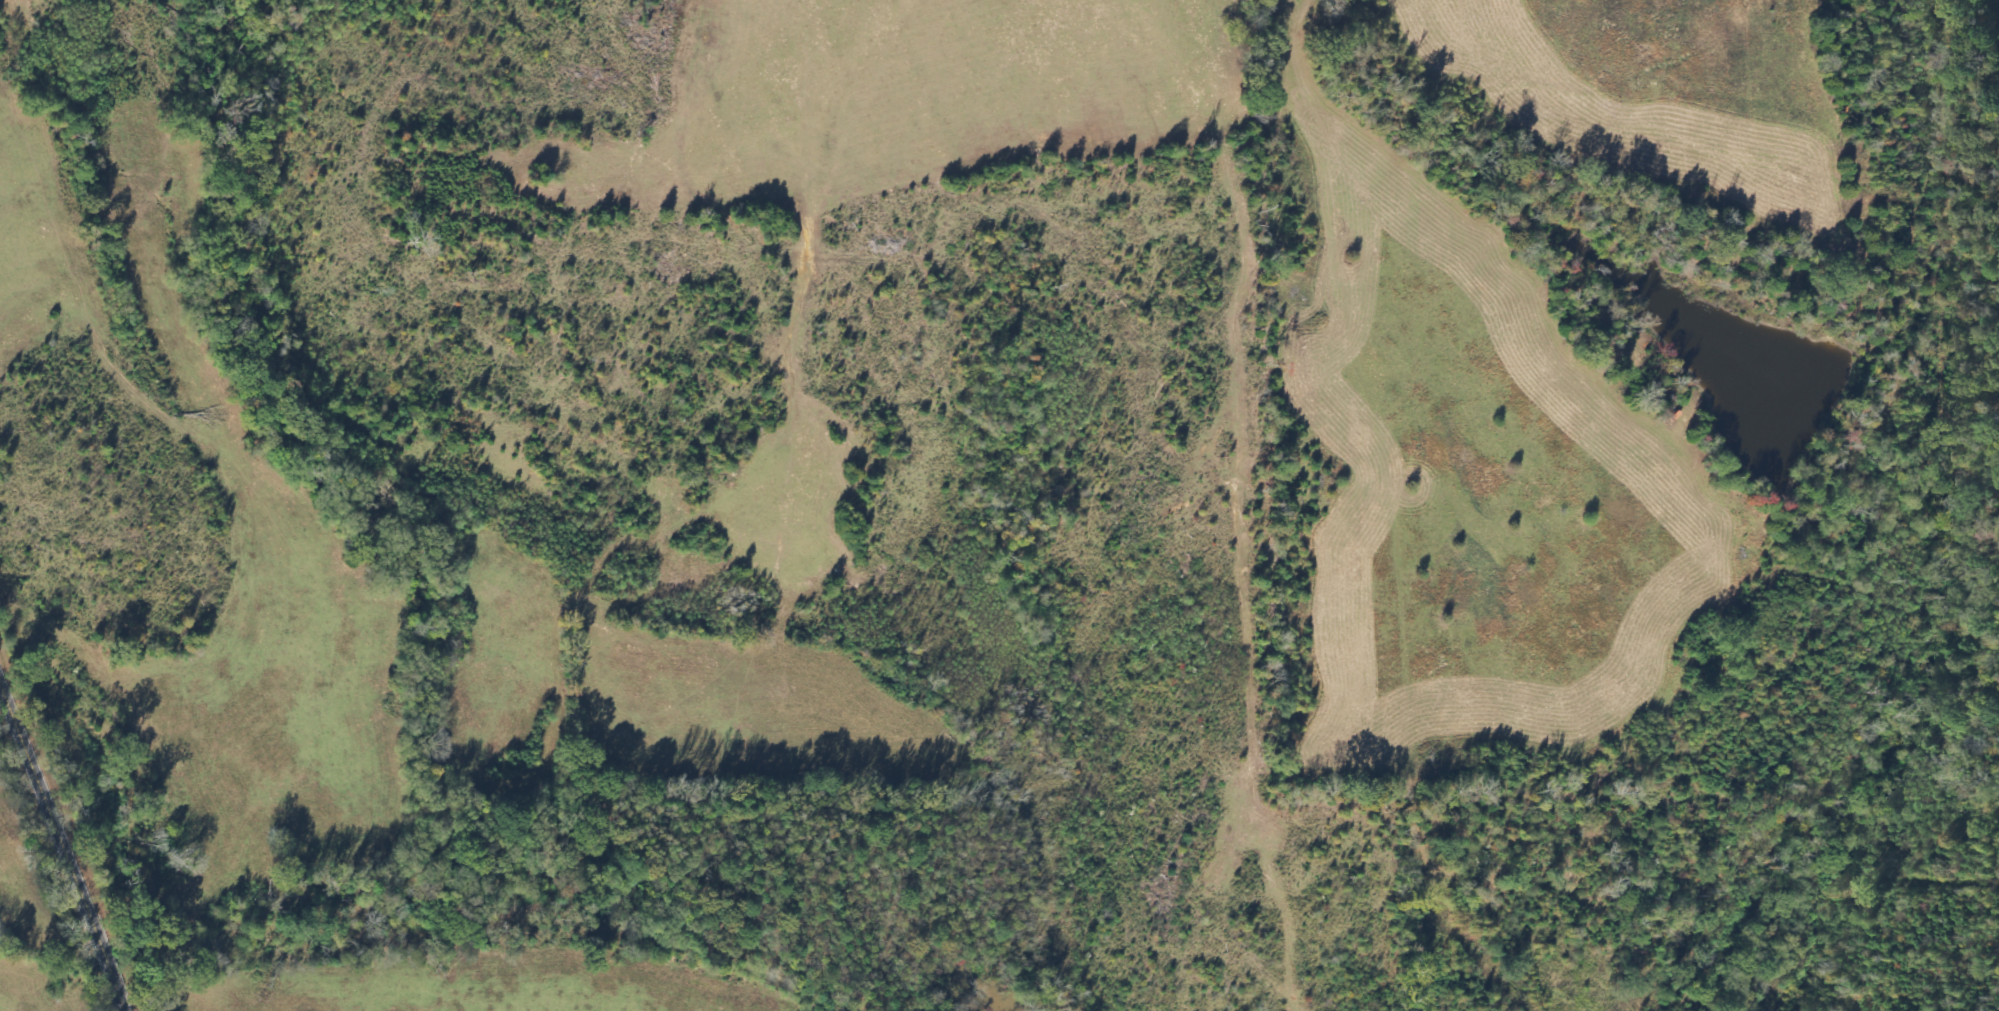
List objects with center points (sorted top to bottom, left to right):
road: (63, 842)
road: (35, 878)

